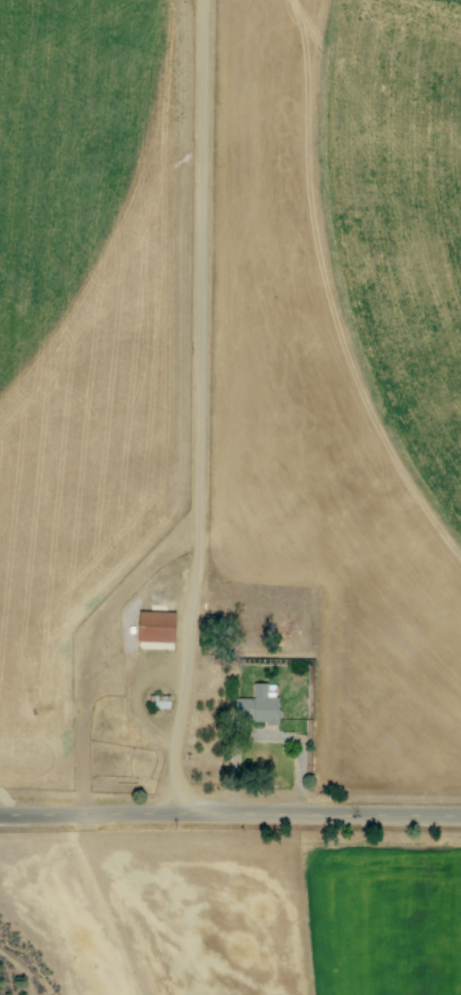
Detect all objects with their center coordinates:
building: (153, 626)
building: (254, 705)
road: (146, 733)
road: (230, 815)

